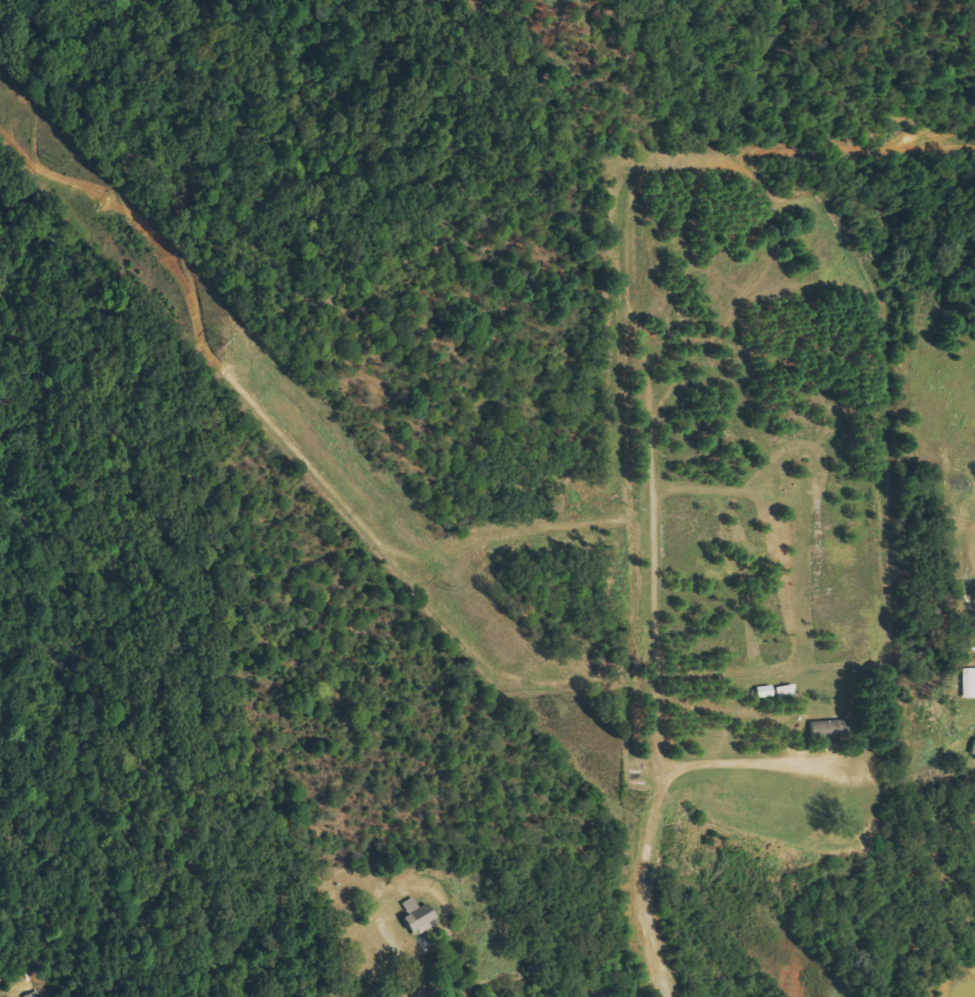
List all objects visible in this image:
building: (967, 683)
building: (823, 729)
building: (421, 916)
road: (425, 968)
building: (32, 995)

